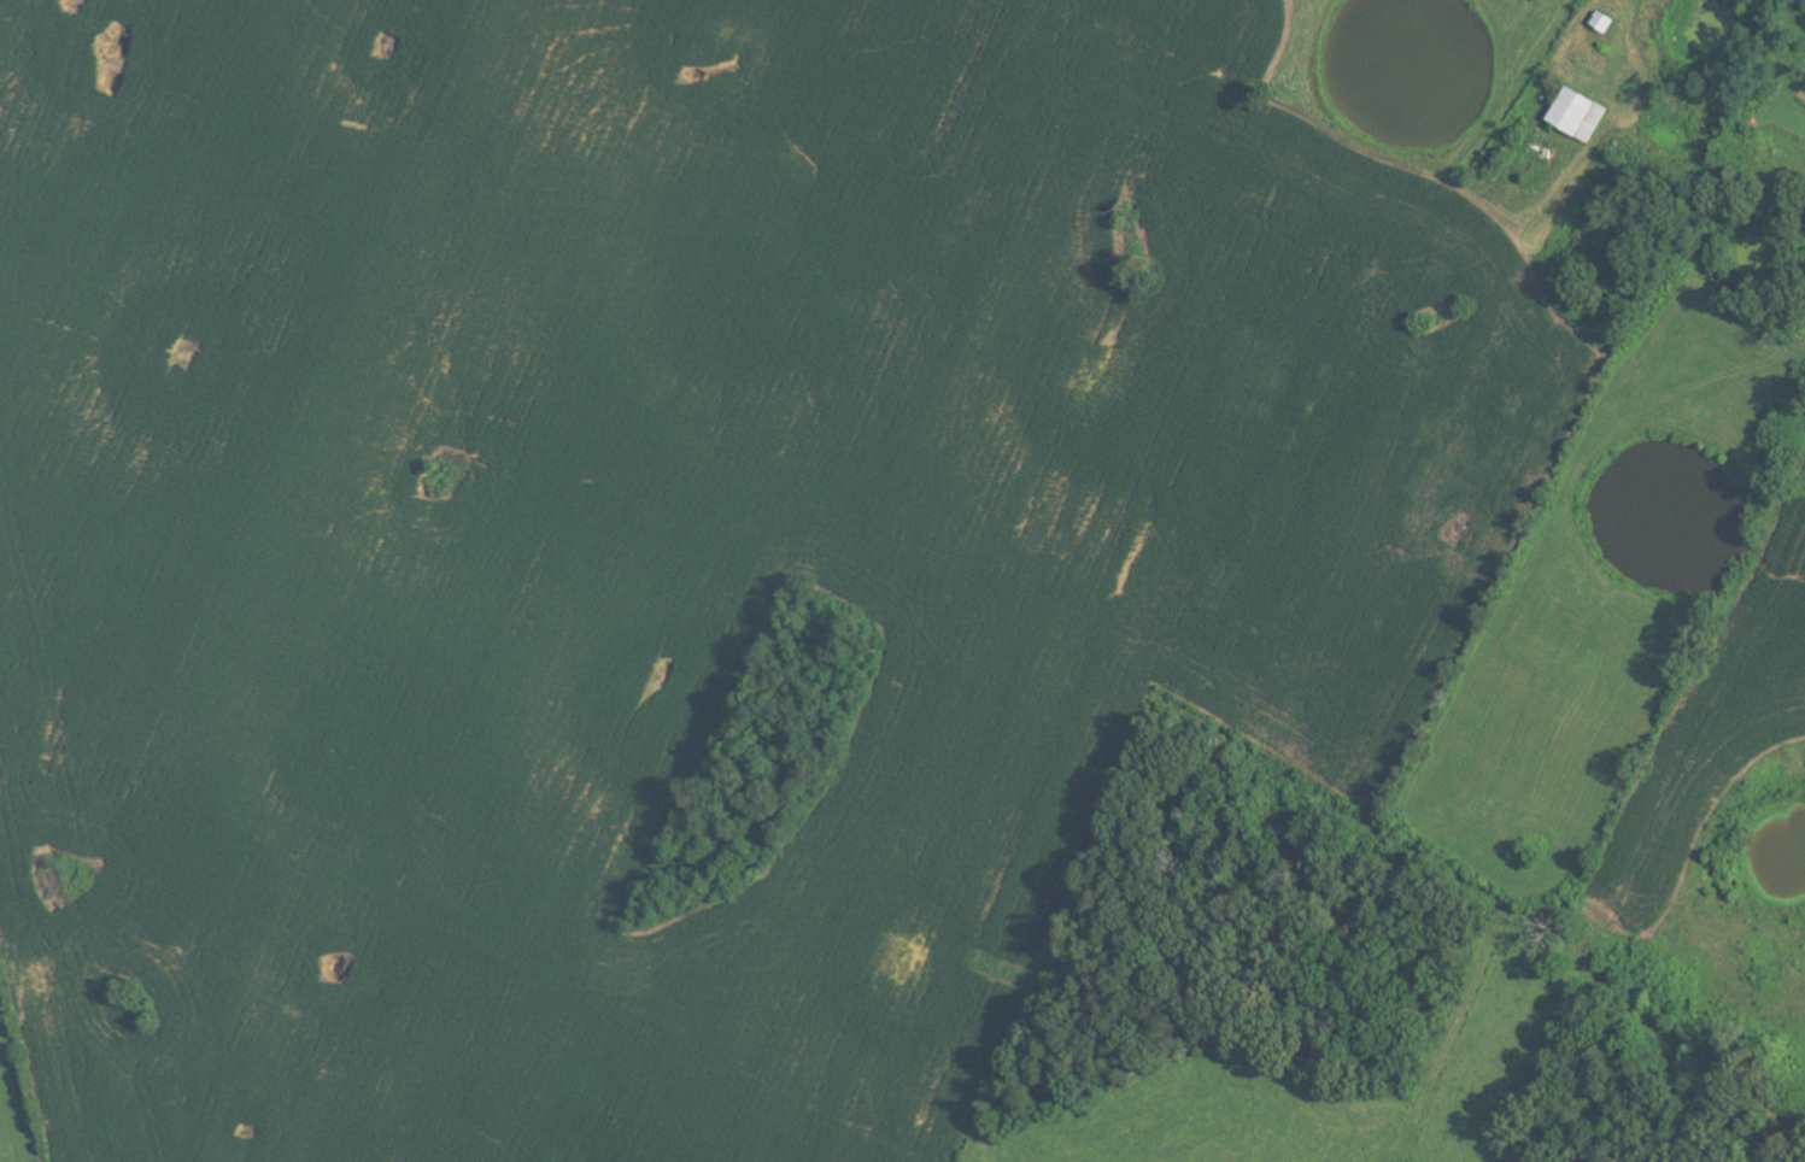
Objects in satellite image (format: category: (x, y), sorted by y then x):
building: (1581, 115)

